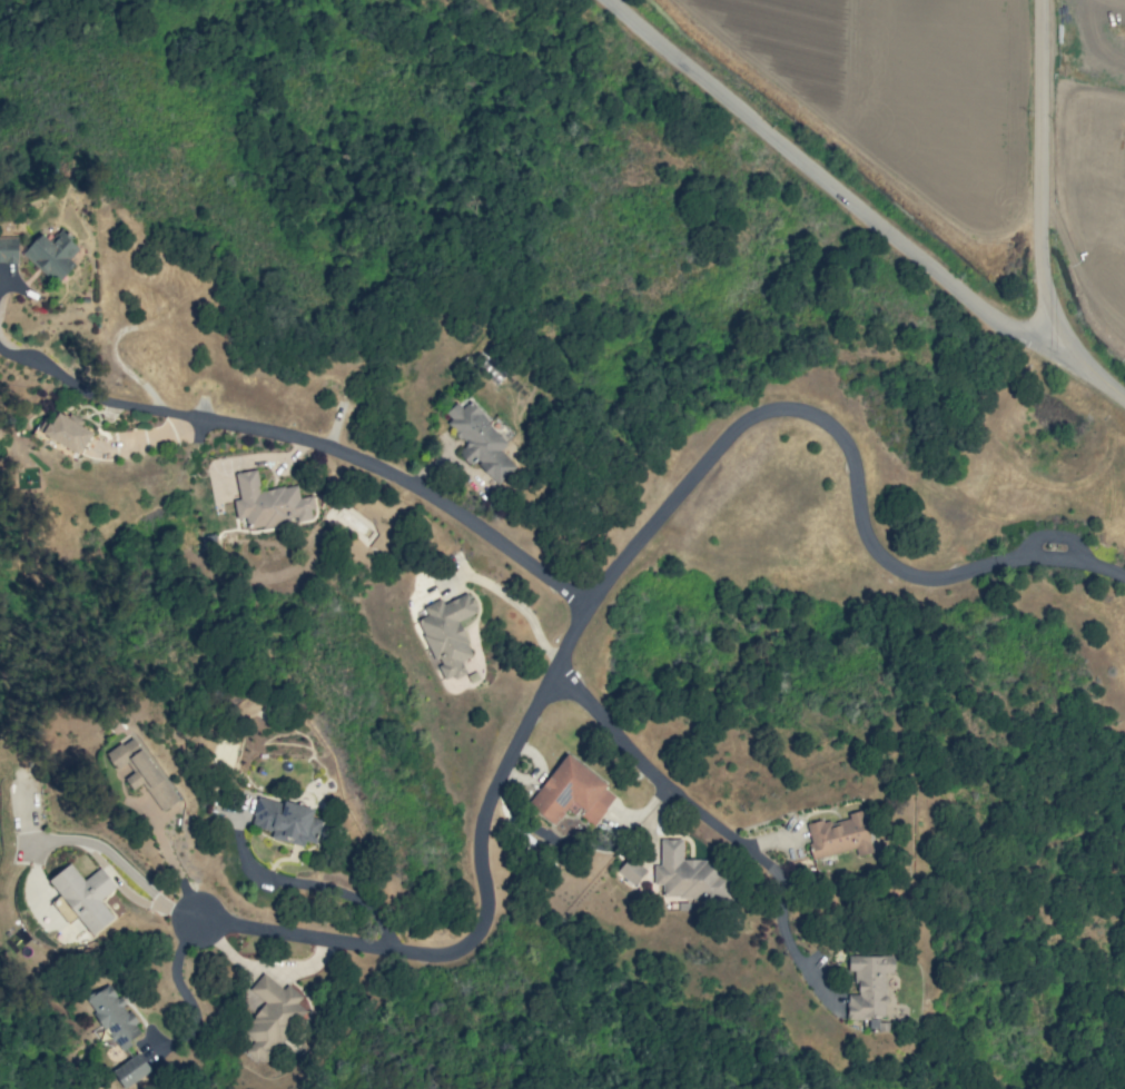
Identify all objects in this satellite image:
road: (1085, 86)
crop: (904, 92)
crop: (1101, 152)
road: (1045, 179)
road: (830, 185)
building: (8, 249)
building: (52, 254)
road: (4, 285)
road: (49, 370)
road: (1094, 375)
building: (65, 432)
building: (480, 440)
road: (362, 465)
building: (268, 503)
road: (612, 577)
building: (447, 634)
building: (142, 772)
road: (671, 784)
building: (572, 792)
building: (286, 821)
building: (838, 835)
road: (90, 842)
building: (631, 870)
building: (689, 877)
road: (320, 889)
road: (788, 942)
building: (868, 986)
building: (114, 1017)
building: (270, 1017)
building: (130, 1070)

